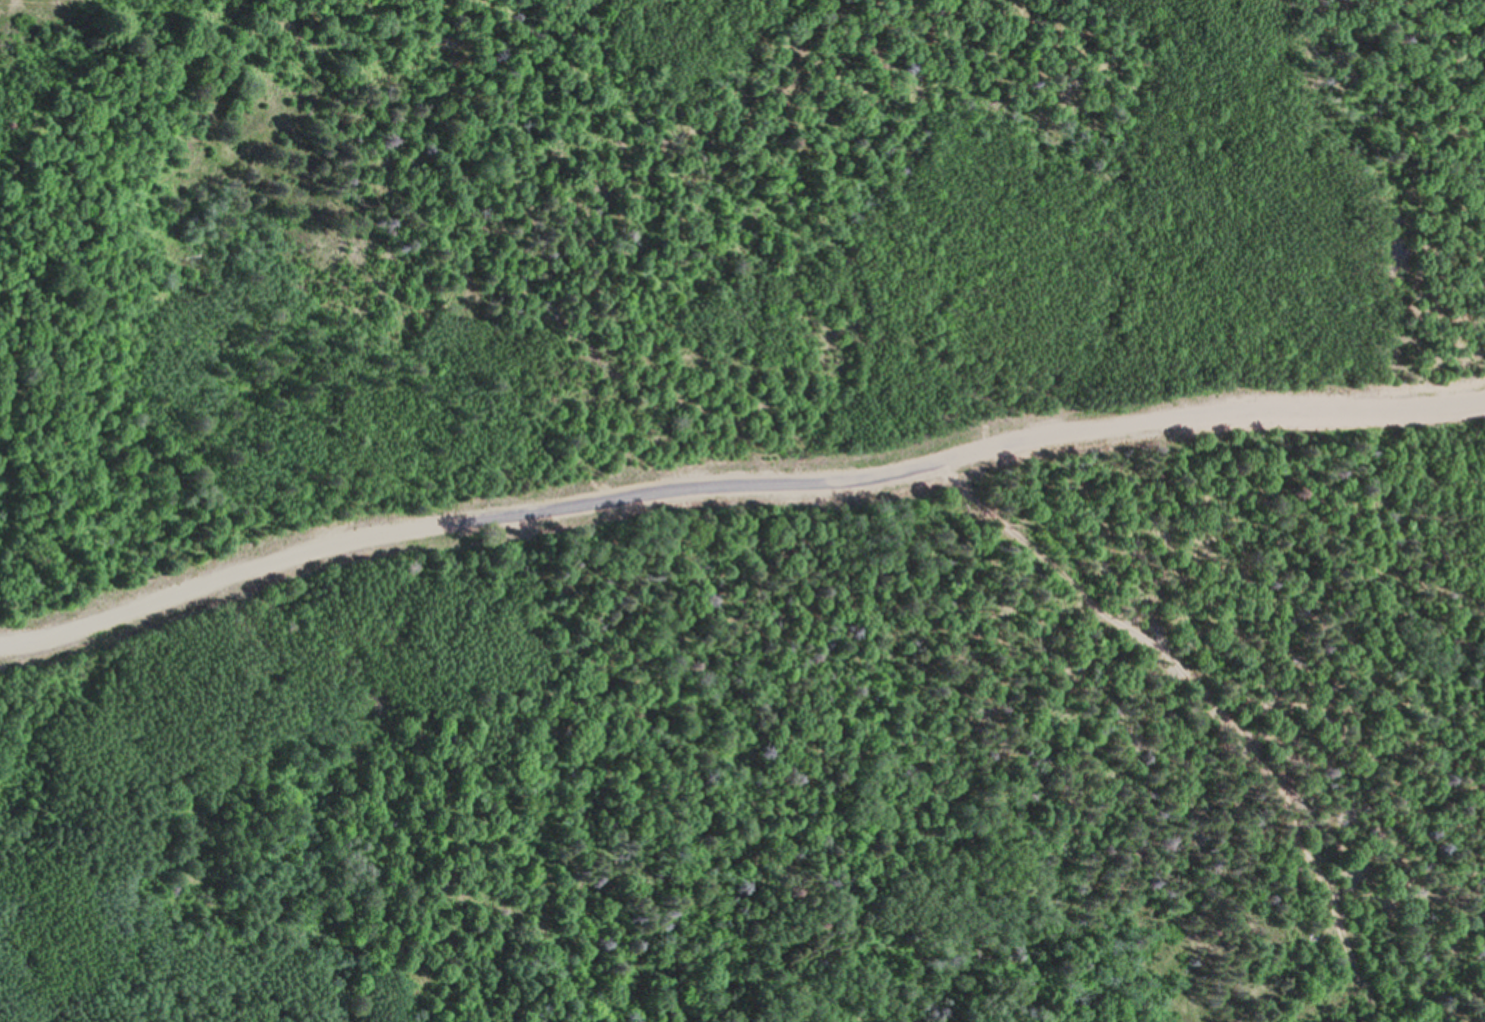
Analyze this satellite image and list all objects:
road: (735, 486)
road: (736, 504)
road: (1206, 705)

